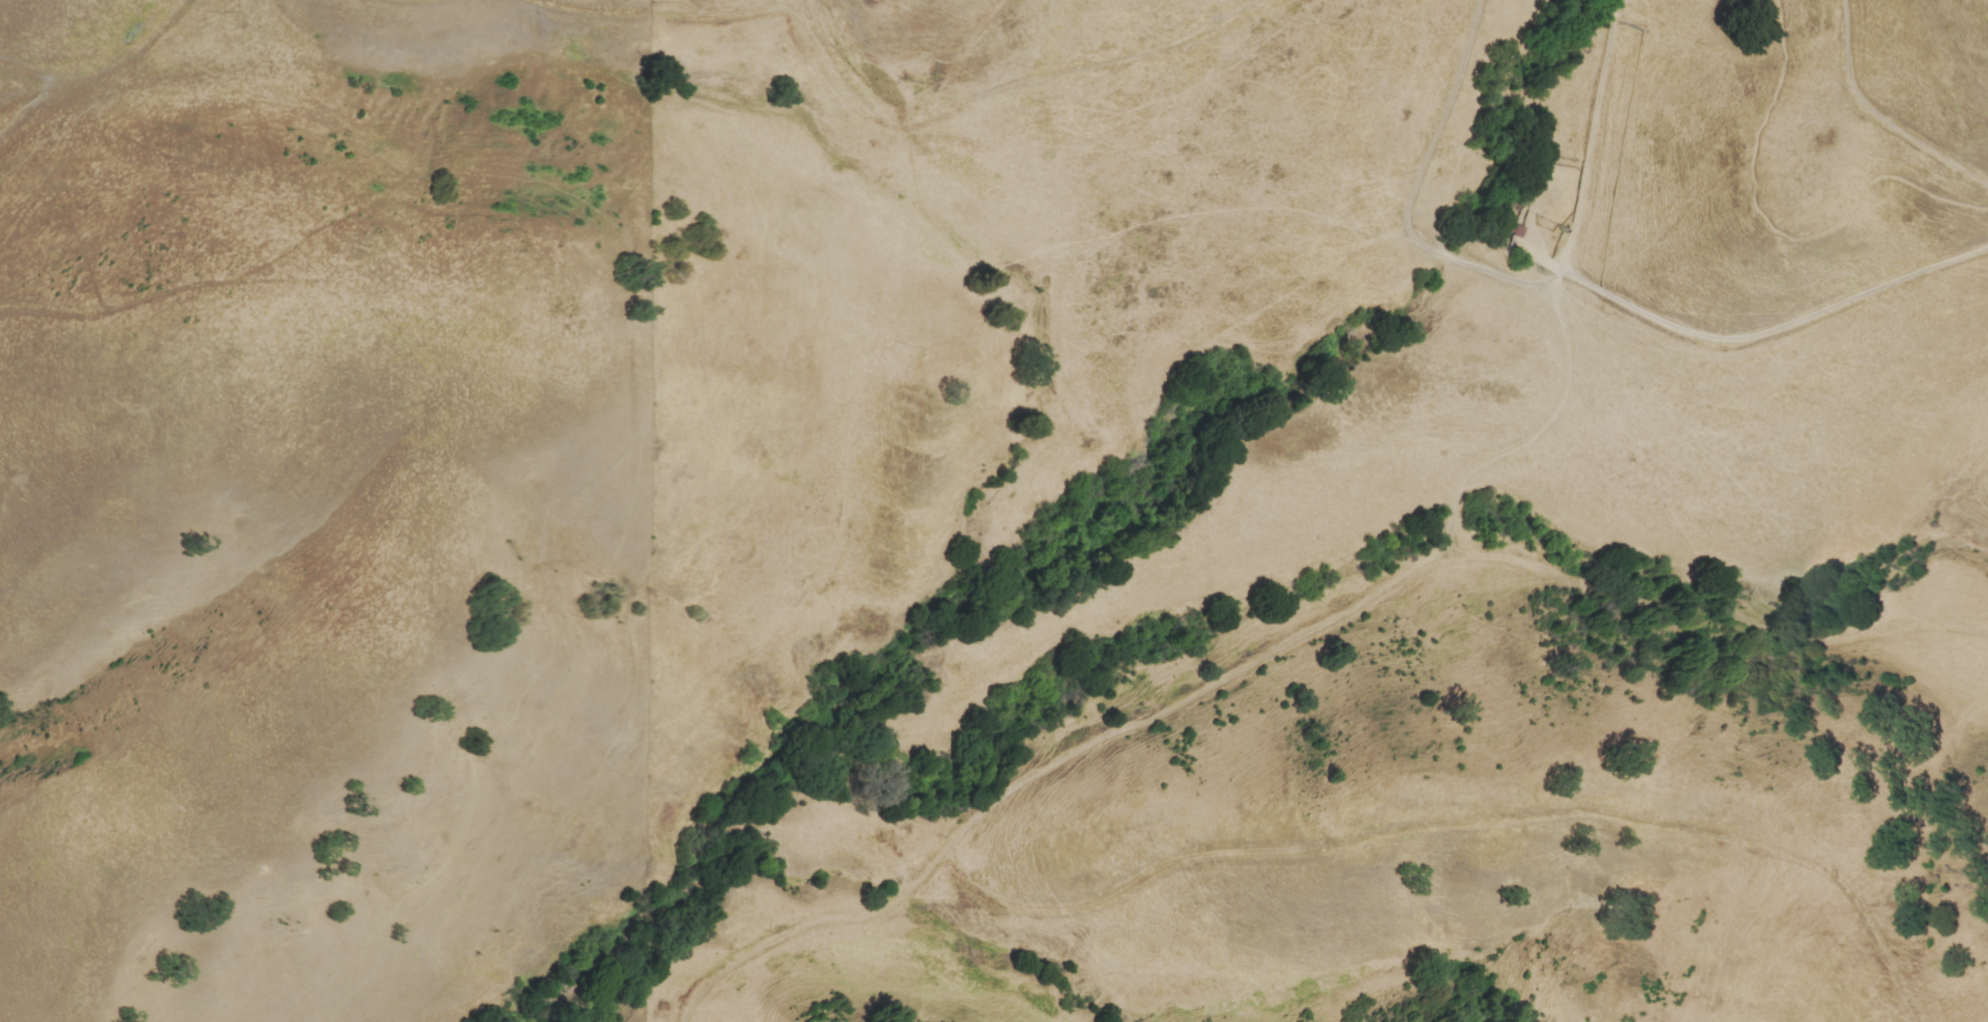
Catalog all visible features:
road: (586, 8)
road: (183, 12)
road: (677, 15)
road: (84, 81)
road: (947, 116)
road: (1877, 116)
road: (1591, 135)
road: (1411, 196)
road: (1774, 228)
road: (1548, 283)
road: (1558, 289)
road: (1774, 328)
road: (1517, 441)
road: (1290, 641)
road: (1461, 821)

